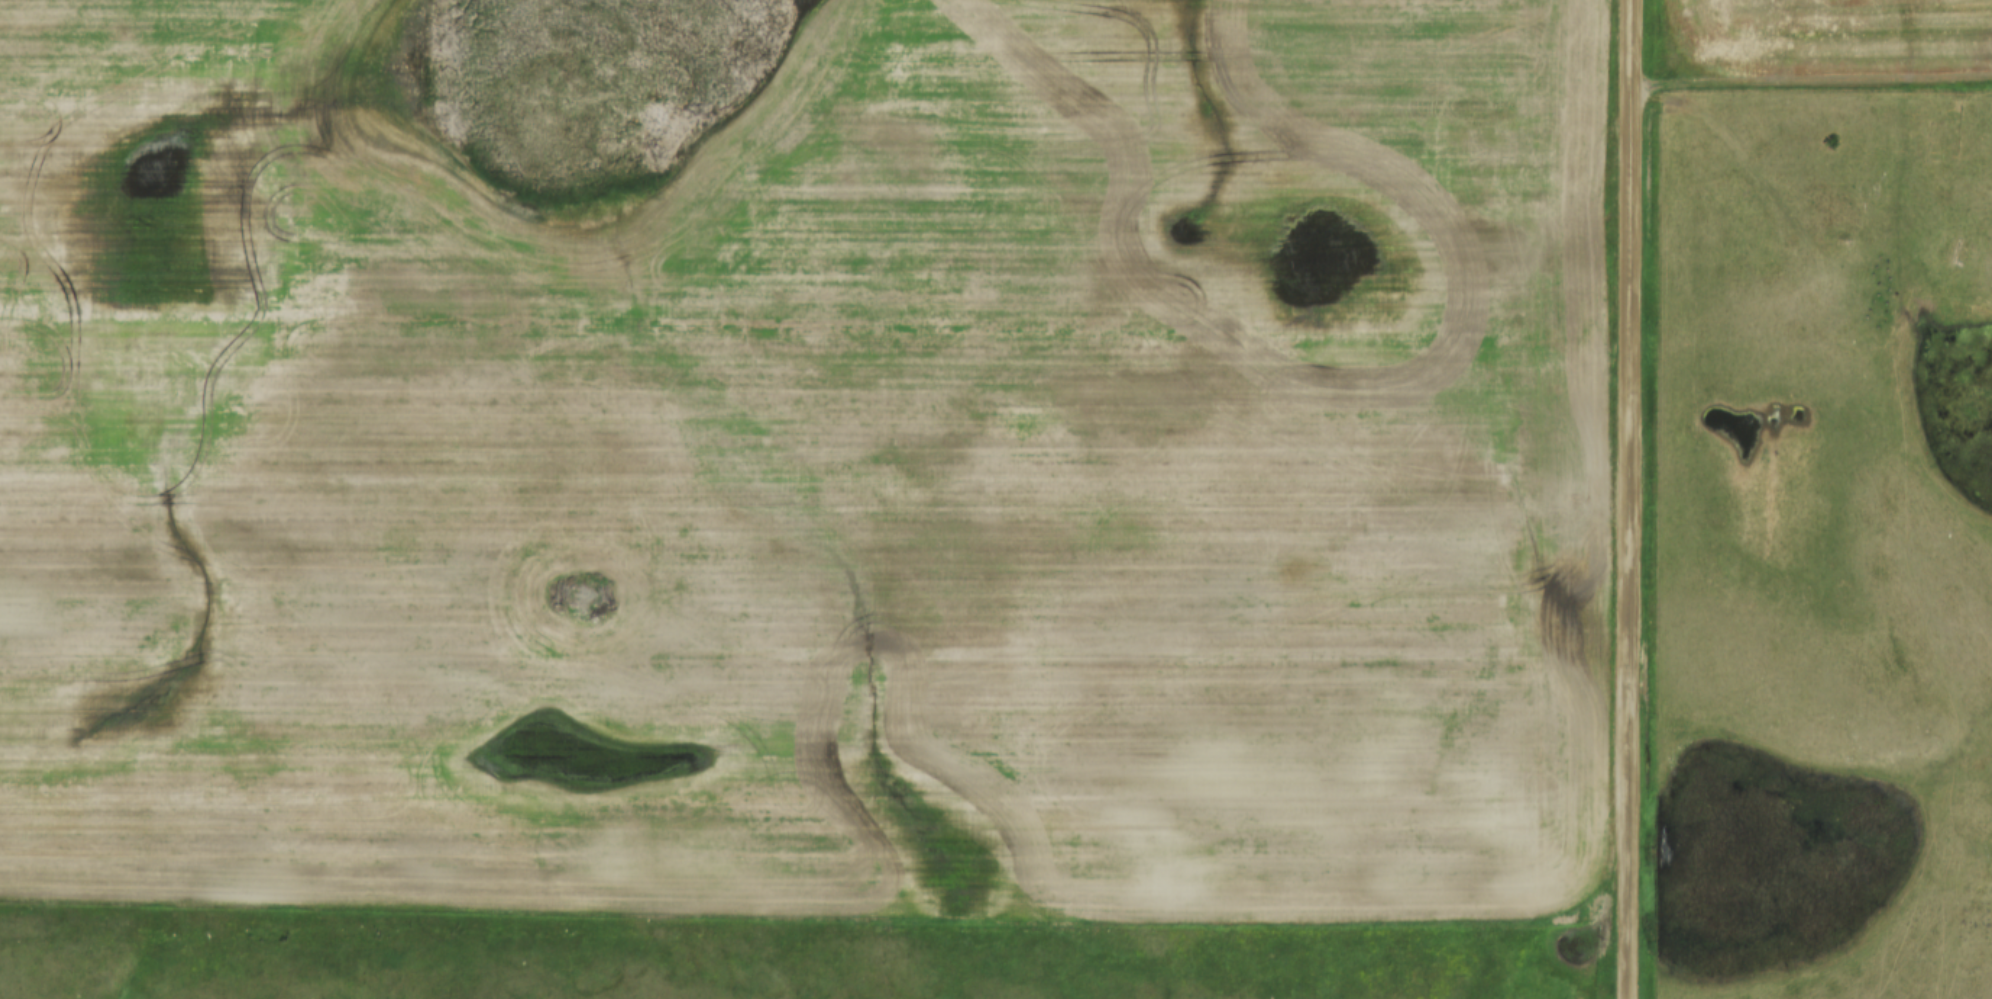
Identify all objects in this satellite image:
road: (1631, 499)

